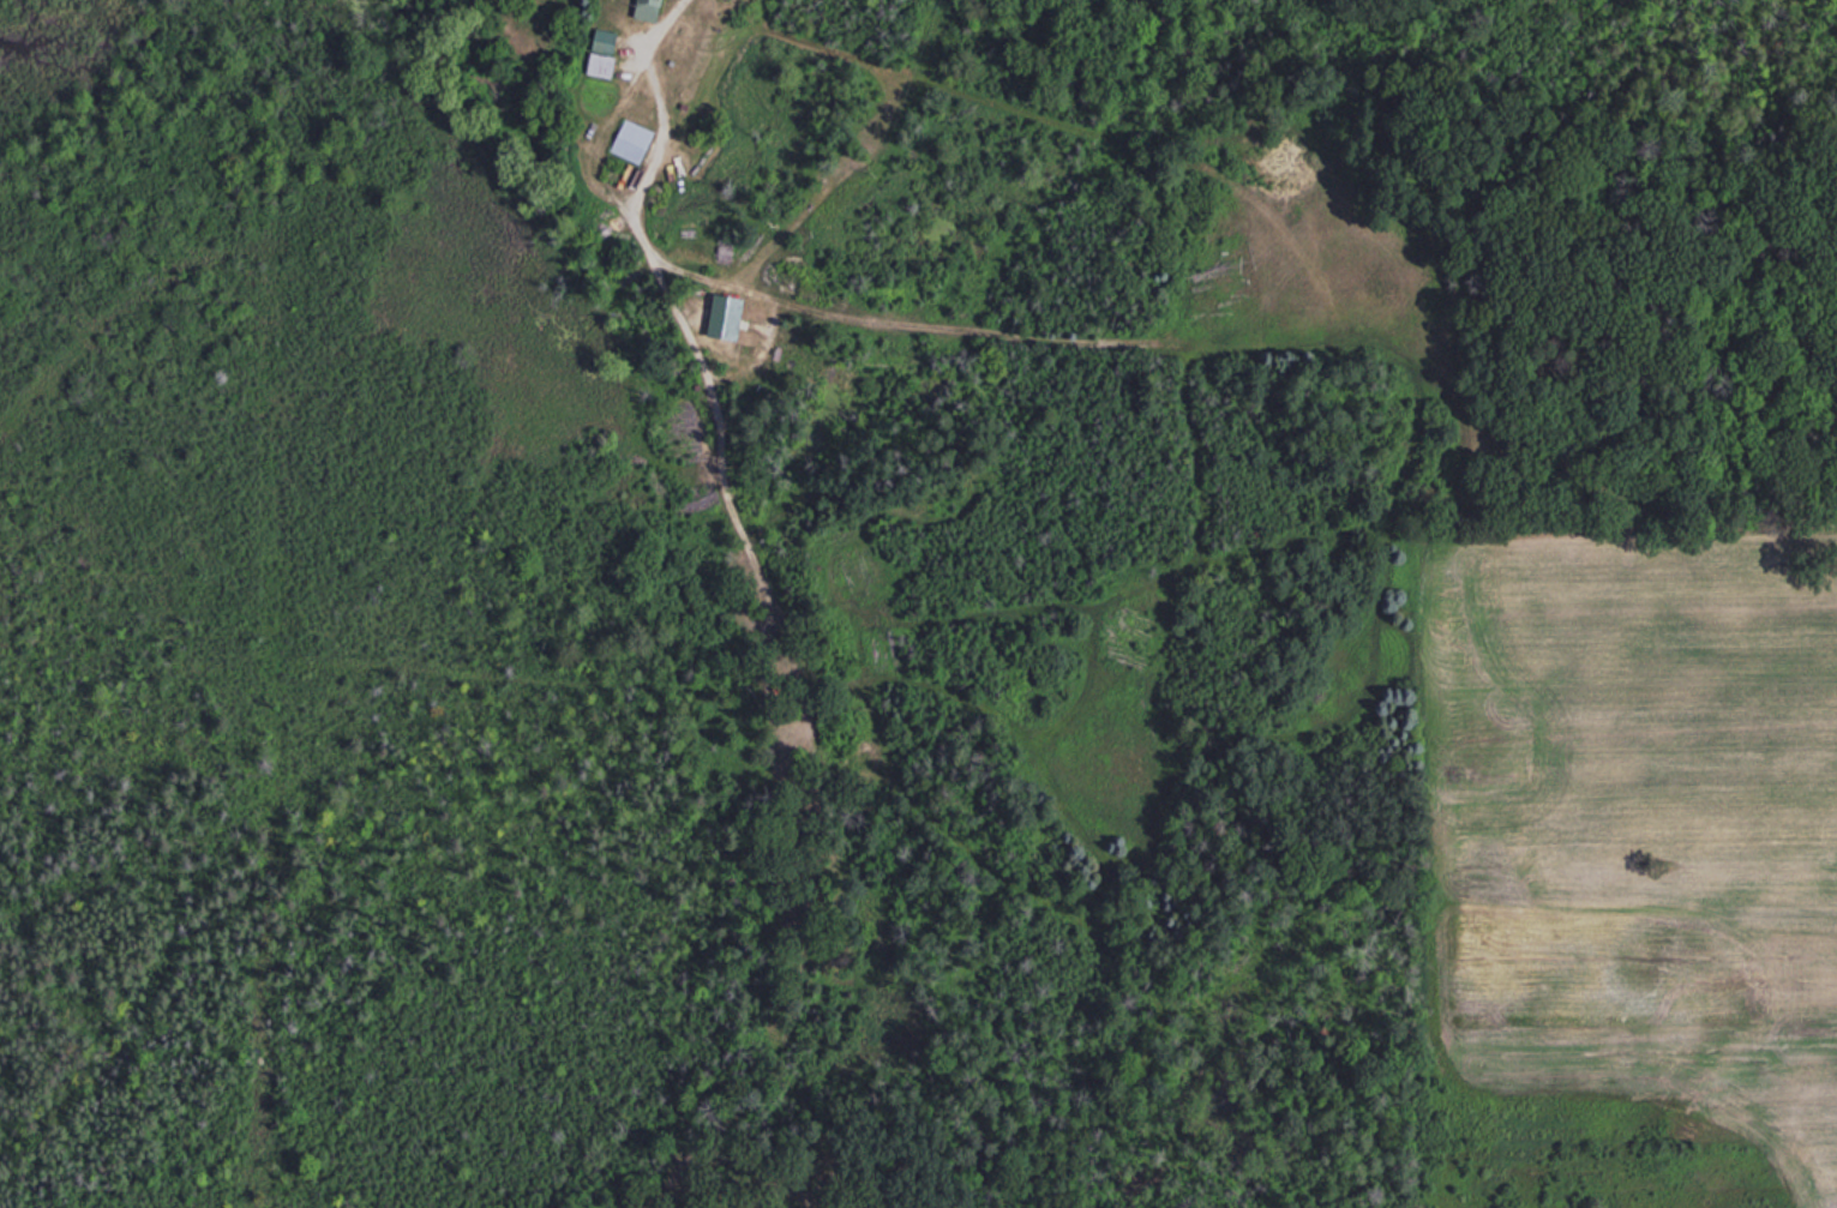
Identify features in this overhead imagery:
building: (643, 8)
building: (599, 53)
building: (629, 140)

